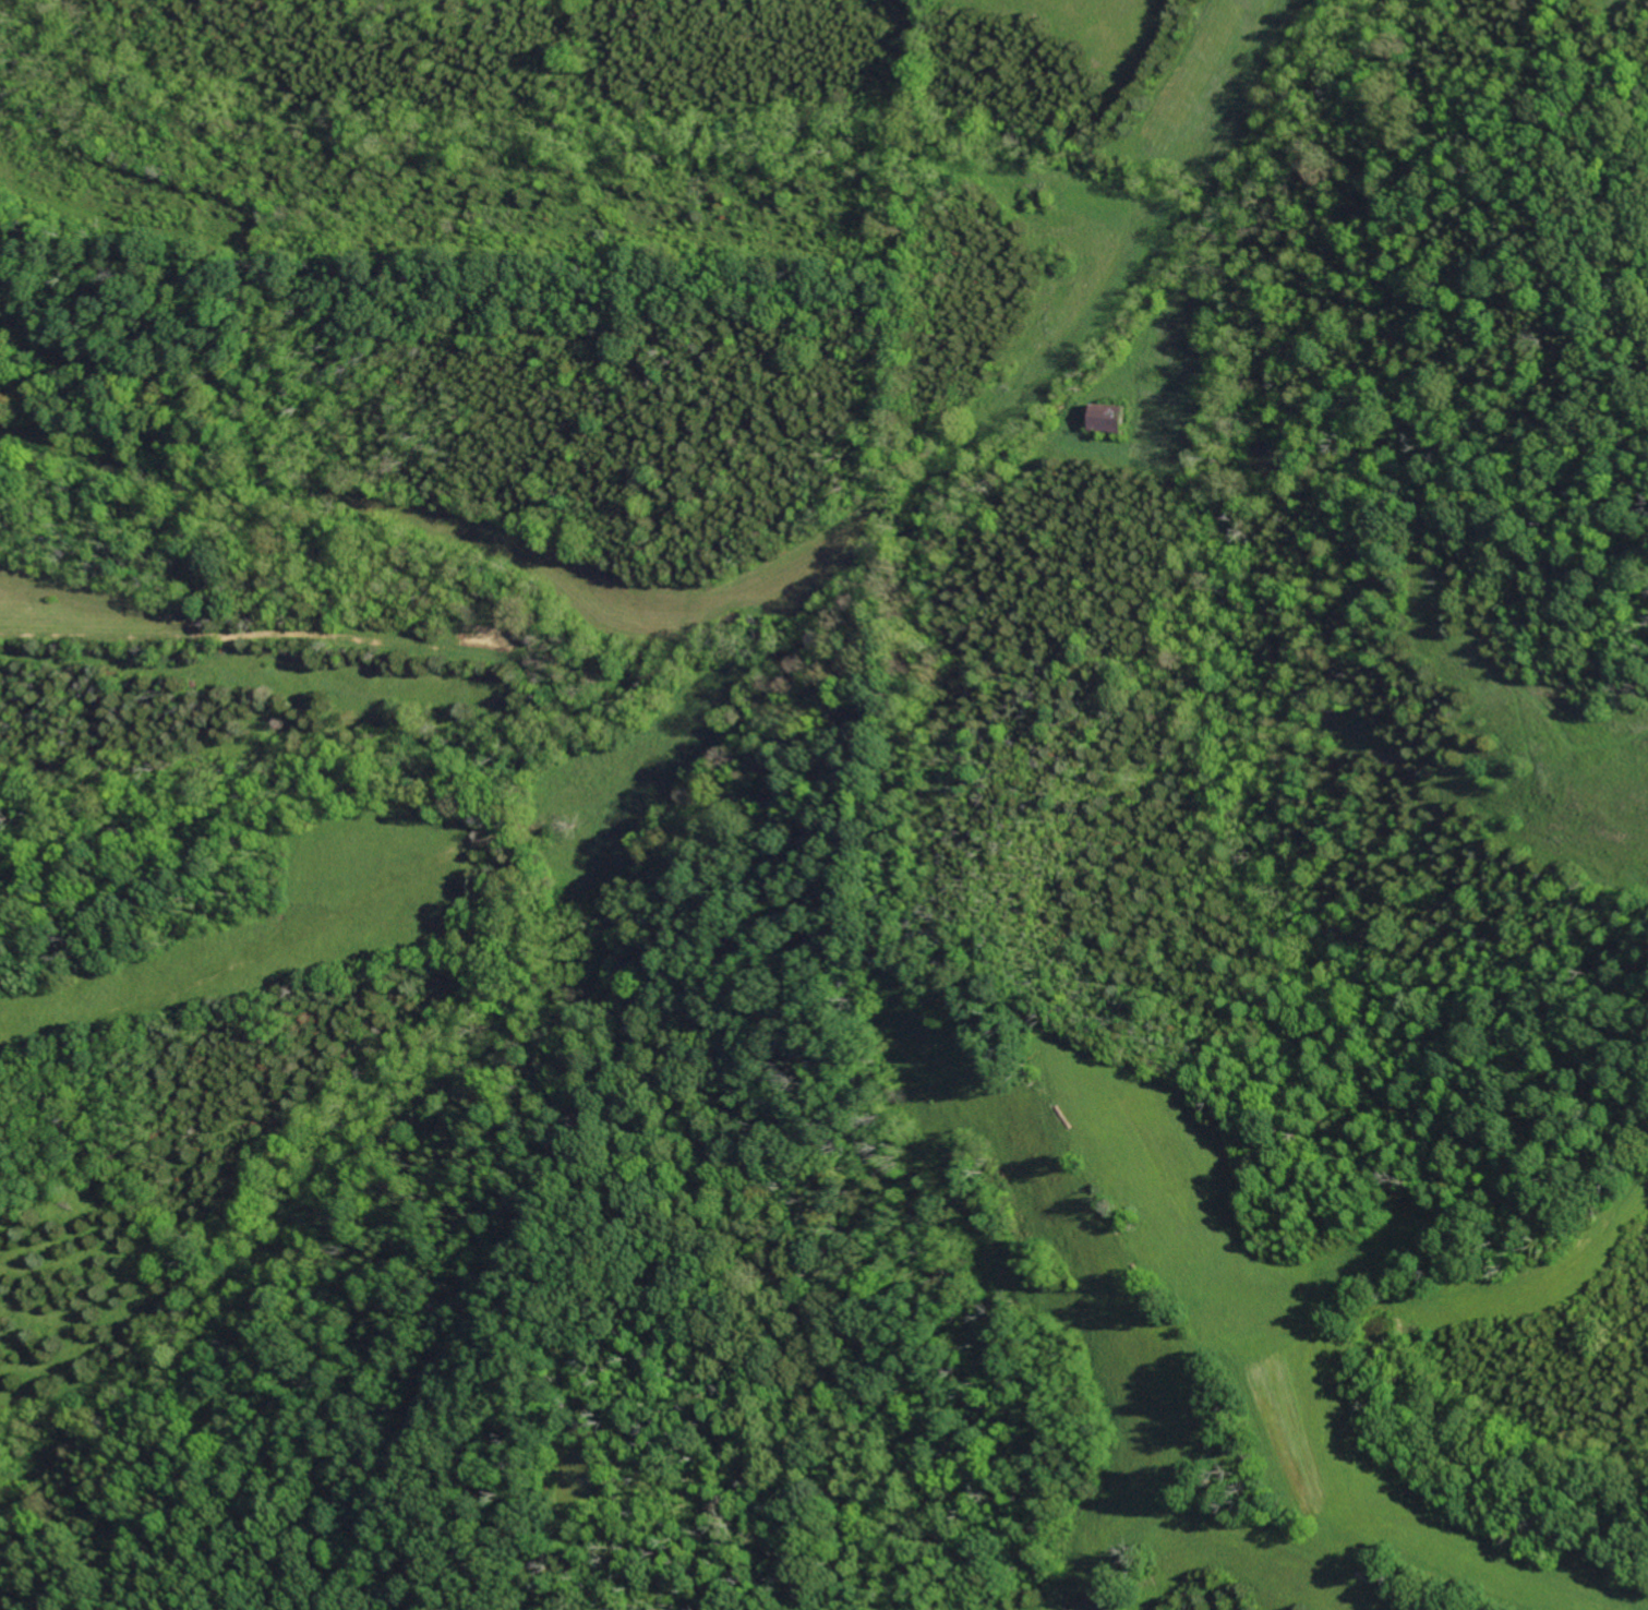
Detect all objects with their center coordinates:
building: (1106, 419)

